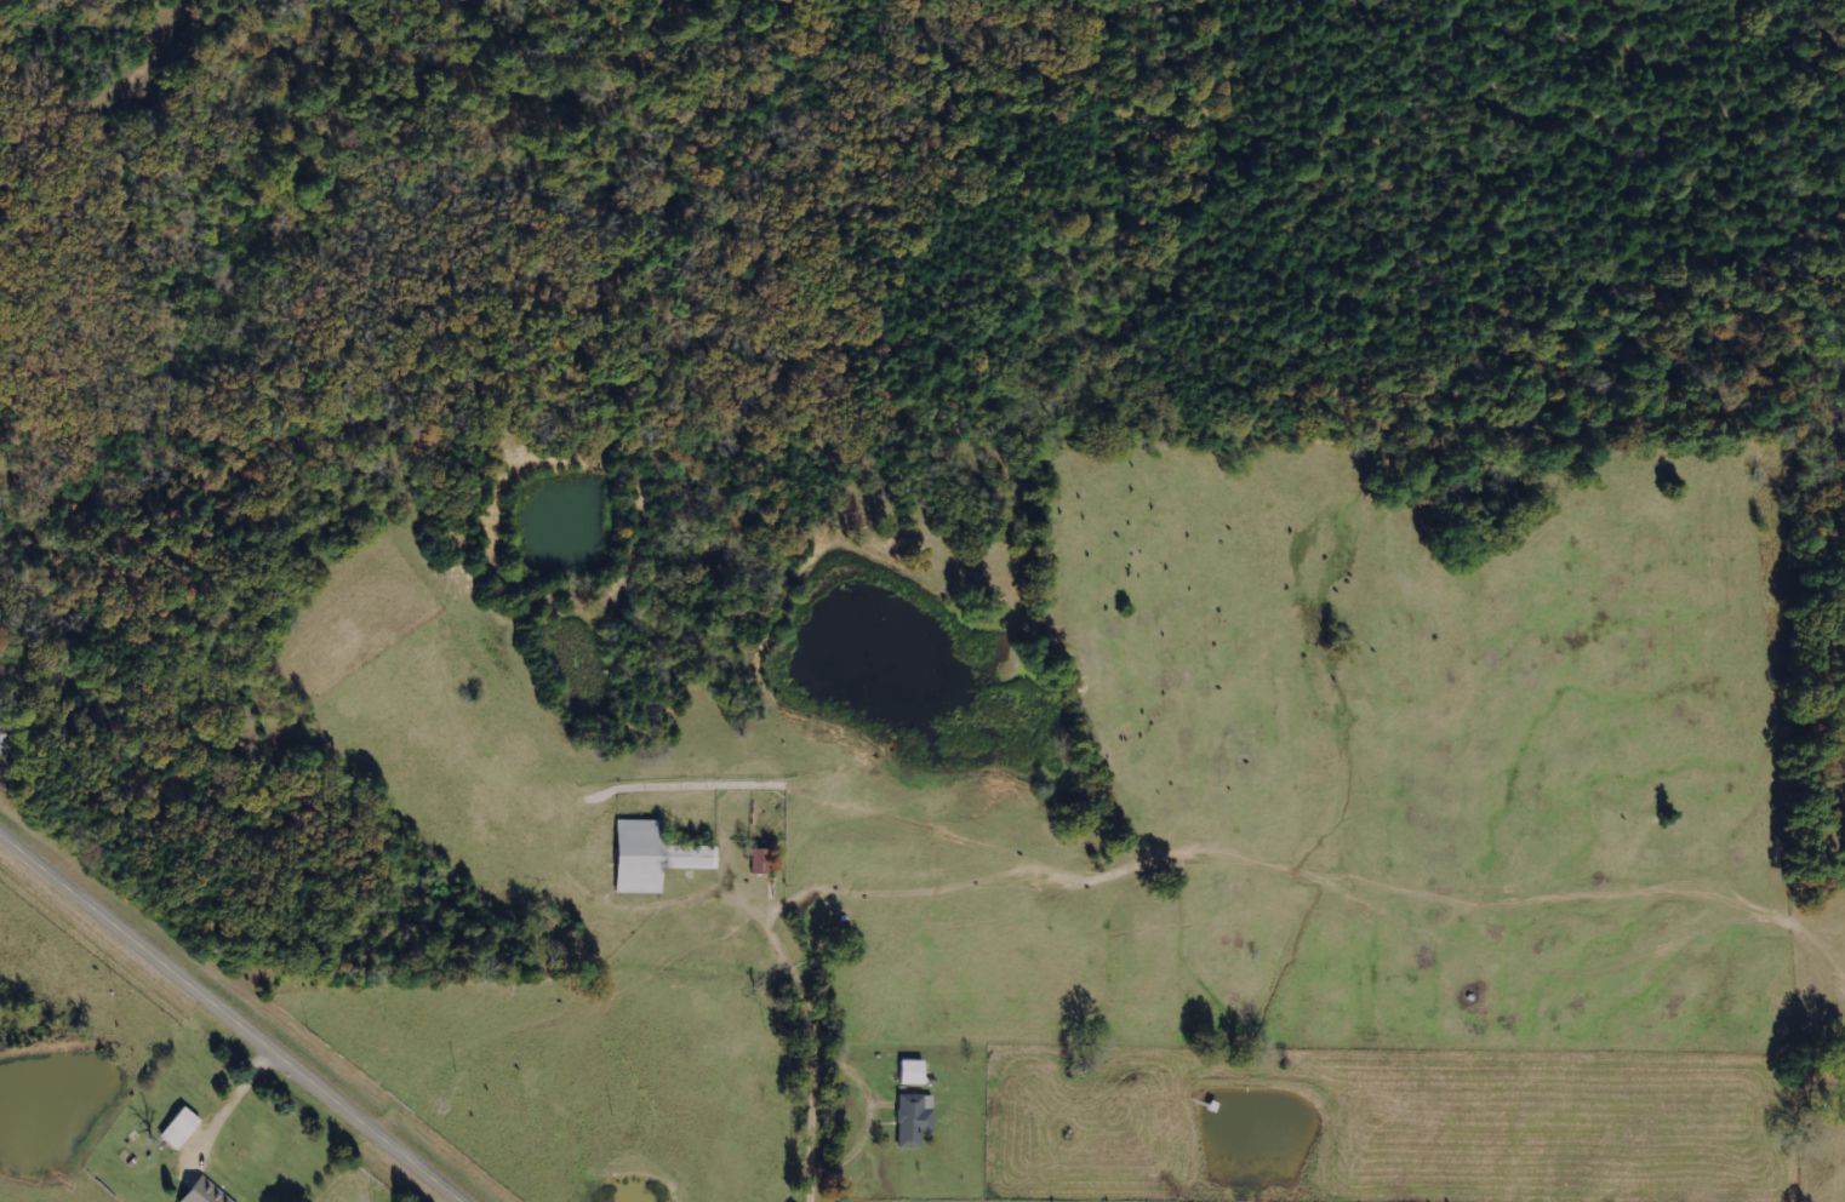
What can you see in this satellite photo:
building: (6, 743)
building: (651, 857)
road: (228, 1019)
building: (910, 1072)
road: (826, 1086)
road: (221, 1103)
building: (914, 1118)
building: (179, 1128)
building: (205, 1192)

